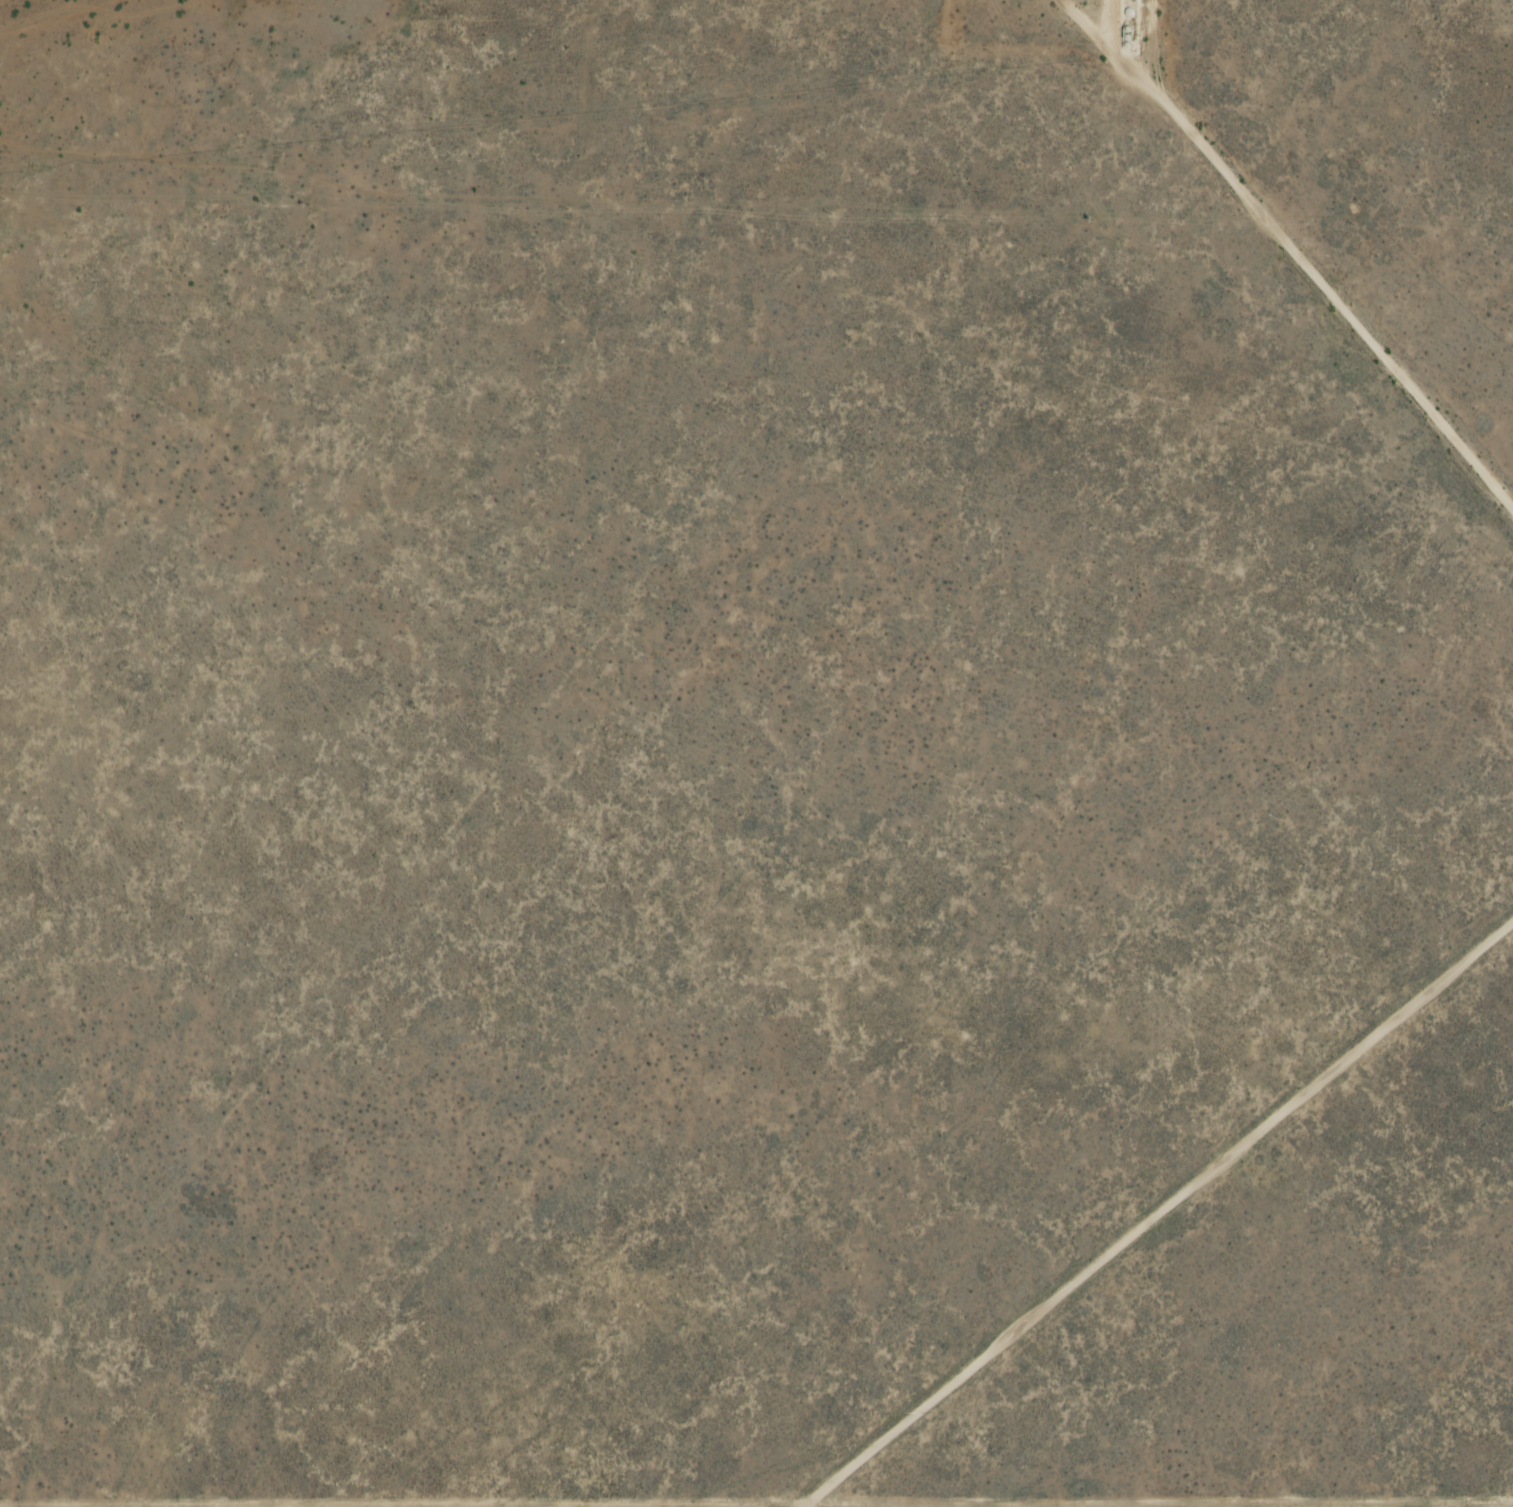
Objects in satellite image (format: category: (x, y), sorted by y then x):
road: (1296, 260)
road: (1159, 1216)

